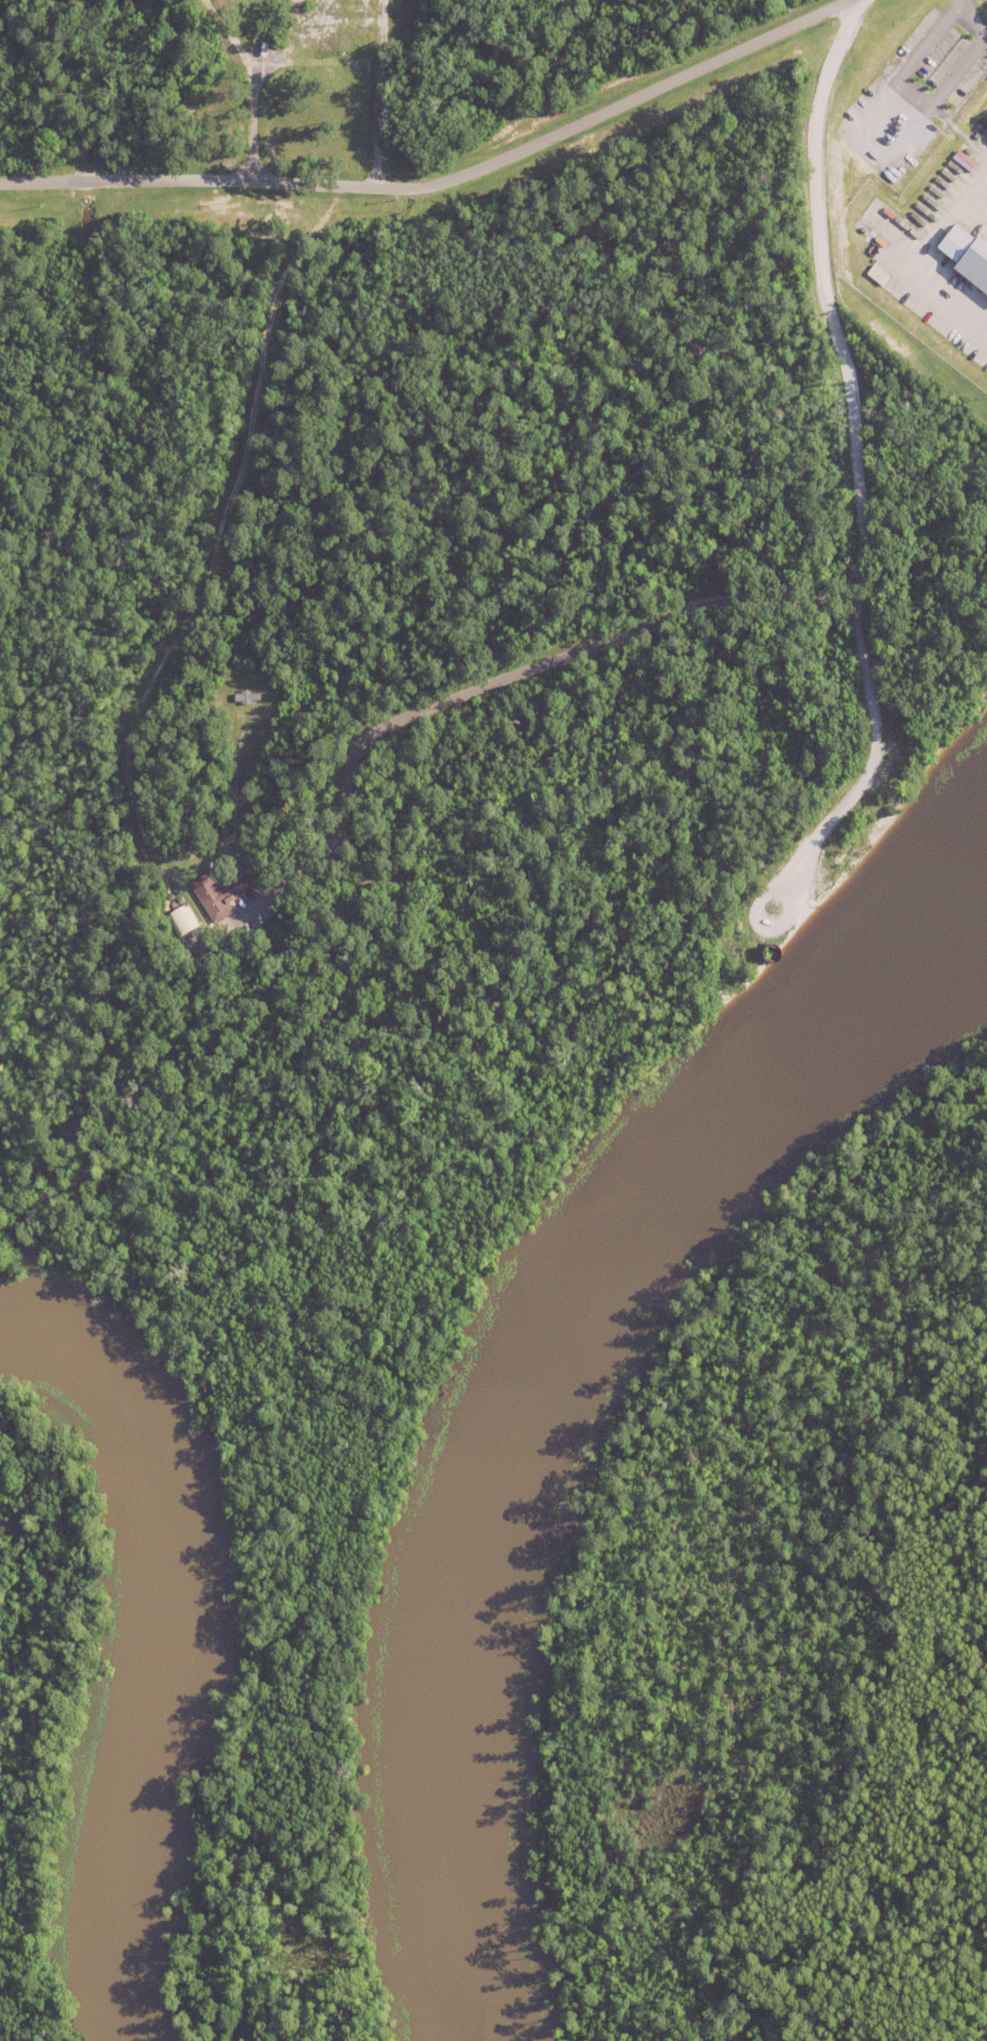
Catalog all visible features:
road: (962, 6)
road: (954, 18)
road: (377, 94)
parking lot: (913, 97)
building: (985, 126)
road: (441, 181)
building: (972, 268)
road: (851, 464)
building: (248, 697)
building: (223, 893)
building: (185, 919)
building: (215, 931)
building: (220, 937)
road: (201, 943)
building: (231, 948)
river: (177, 1639)

